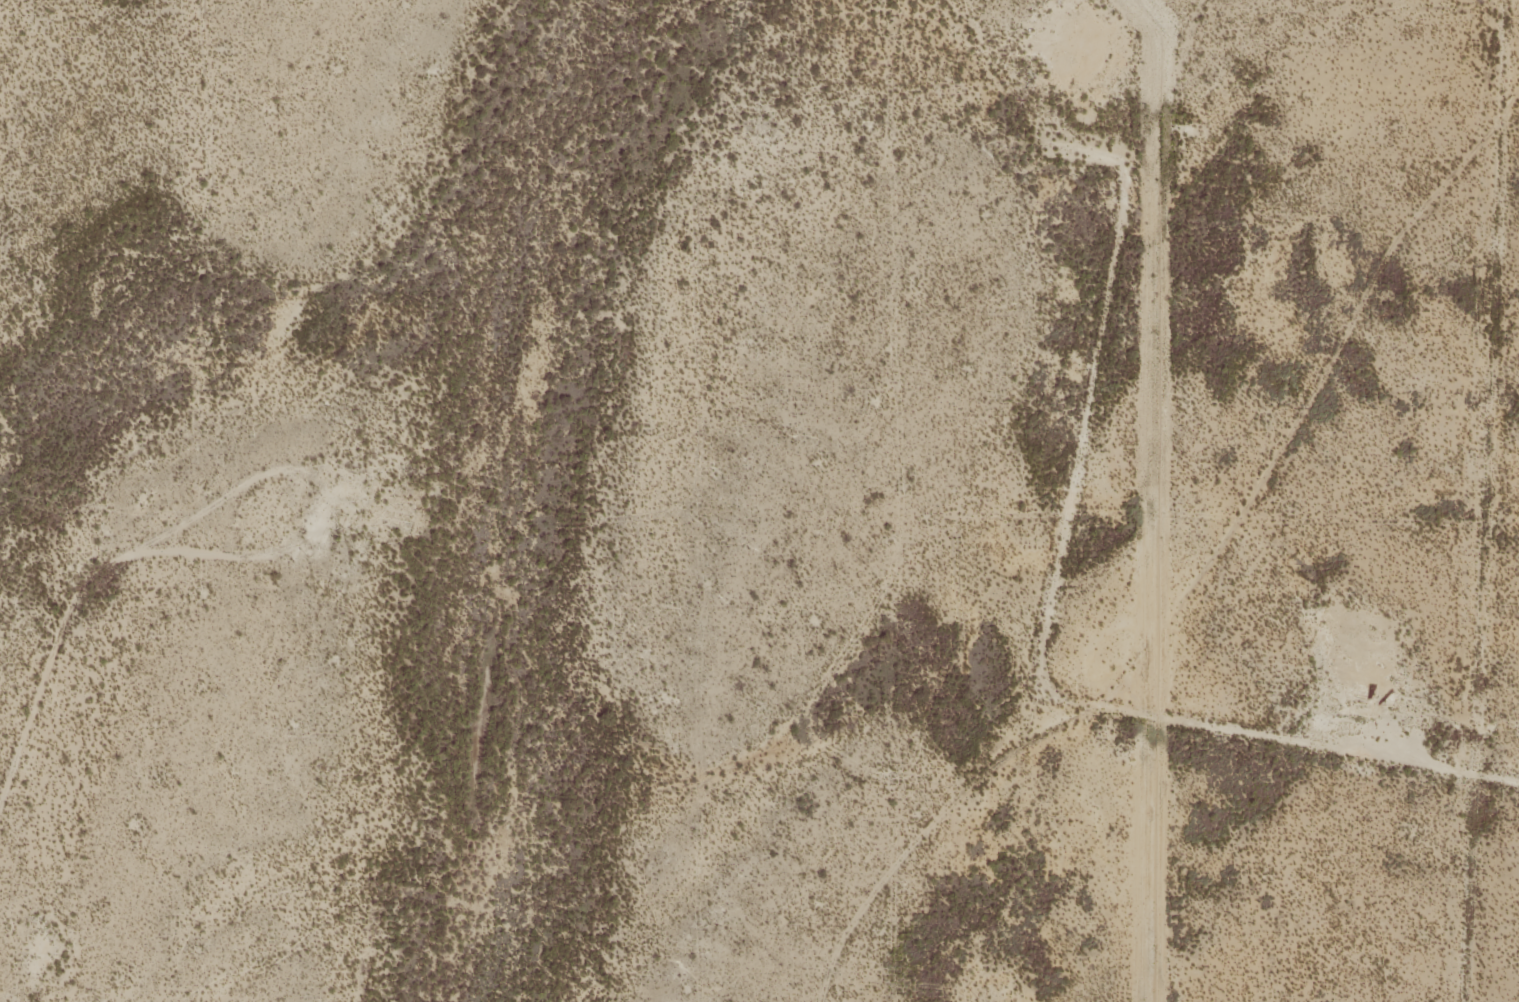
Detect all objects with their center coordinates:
road: (1032, 619)

